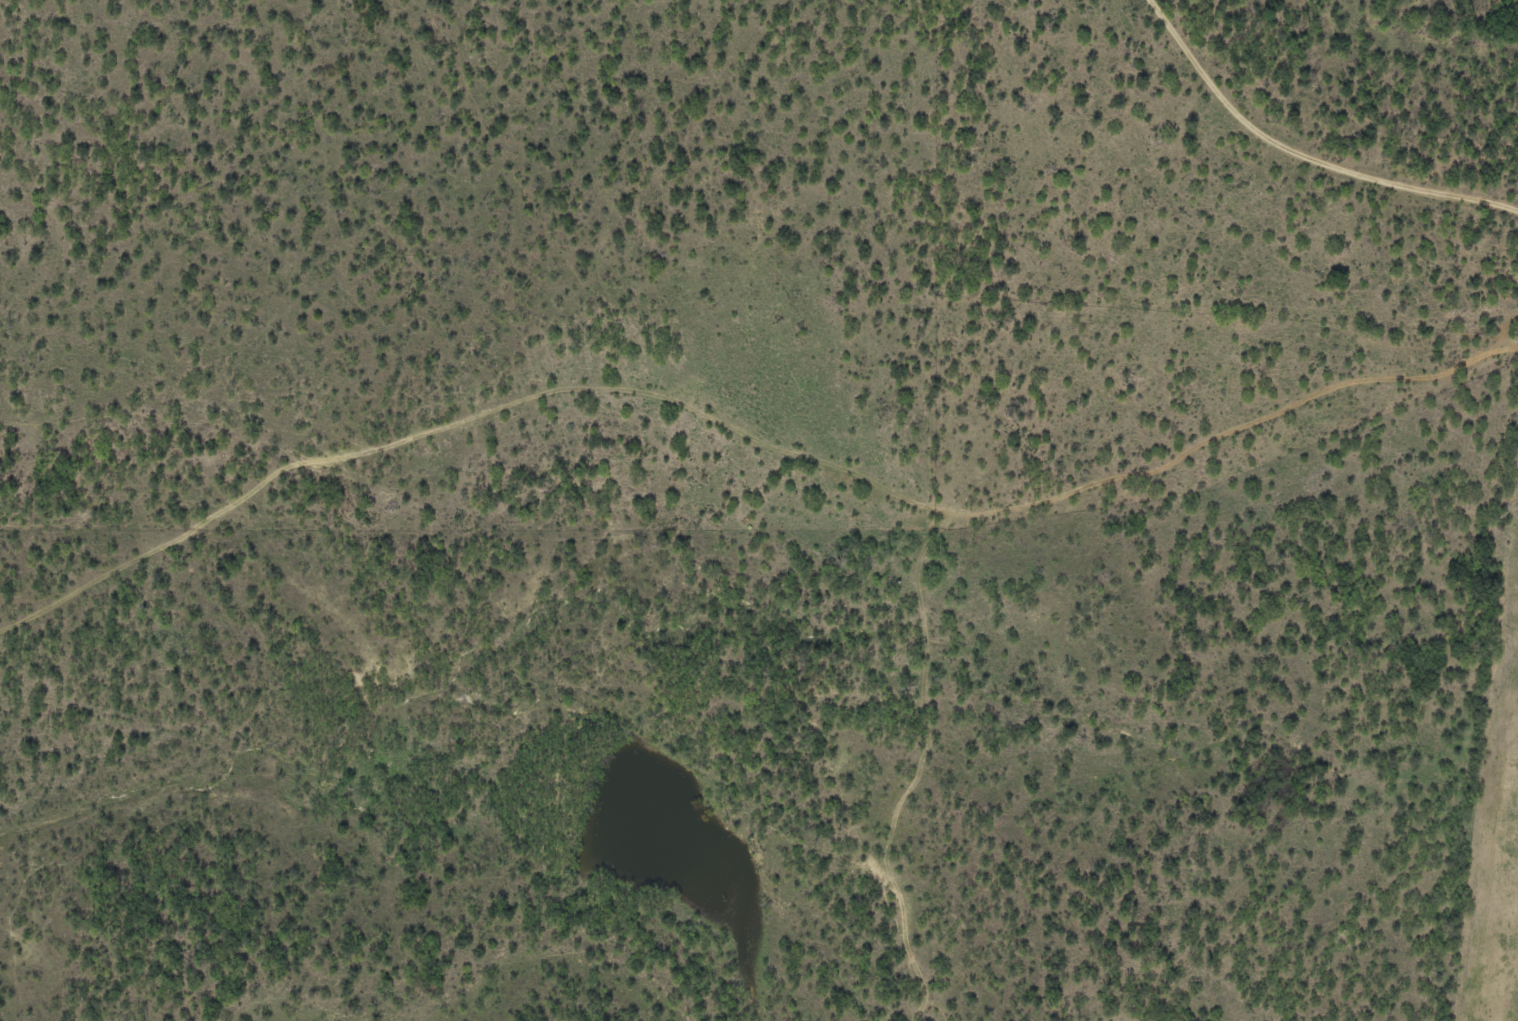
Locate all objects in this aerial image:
road: (1297, 162)

